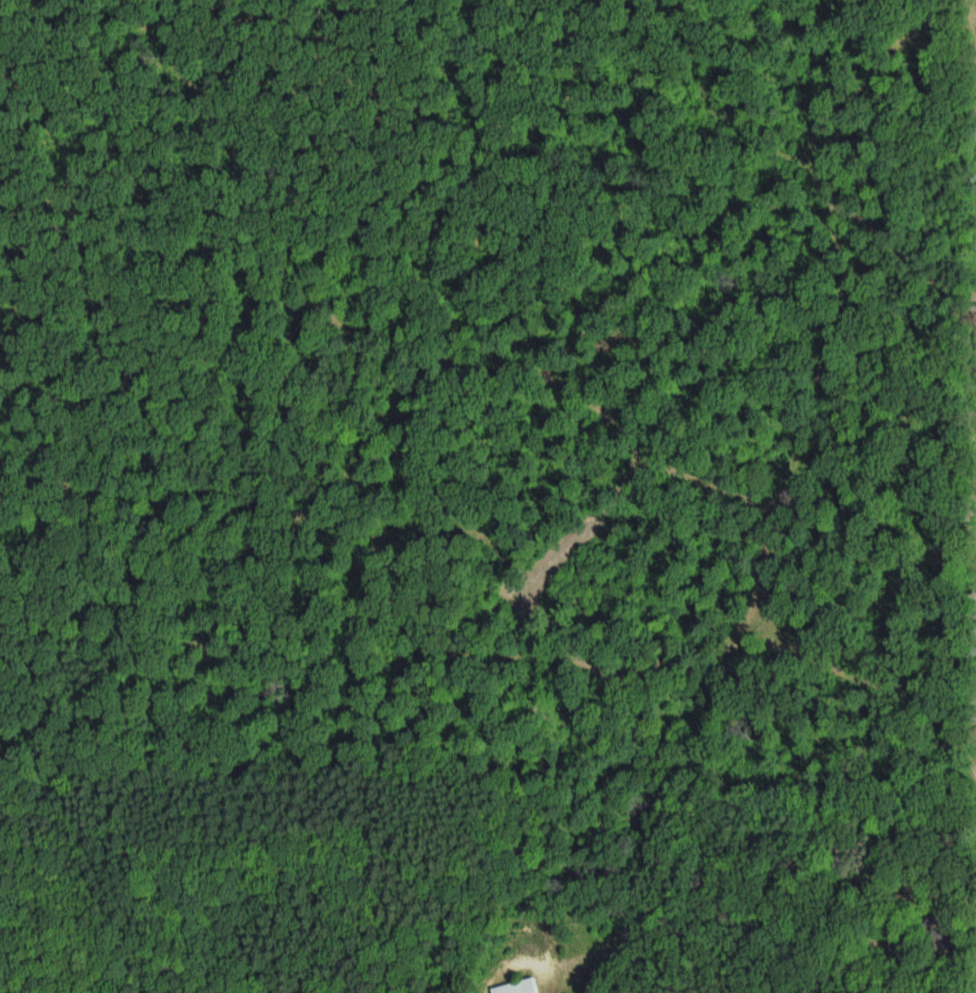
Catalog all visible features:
road: (766, 858)
building: (521, 987)

